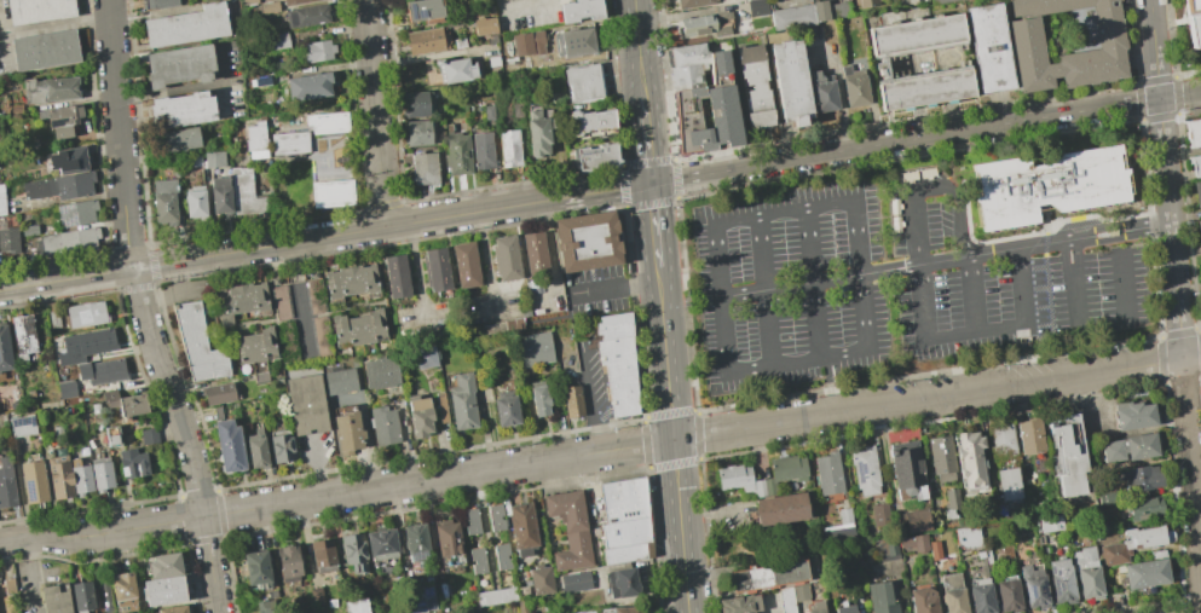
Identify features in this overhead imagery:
building: (412, 0)
building: (516, 0)
building: (940, 0)
building: (293, 1)
building: (157, 2)
building: (694, 2)
building: (873, 5)
building: (761, 8)
building: (37, 10)
rooftop solar panel: (414, 10)
building: (481, 11)
building: (584, 11)
rooftop solar panel: (422, 13)
building: (844, 13)
building: (827, 15)
building: (306, 16)
building: (432, 16)
building: (1196, 19)
building: (720, 21)
building: (797, 21)
road: (54, 23)
building: (186, 25)
building: (489, 31)
building: (922, 36)
building: (278, 40)
building: (582, 44)
building: (529, 45)
road: (2, 46)
building: (434, 46)
building: (995, 47)
building: (44, 48)
road: (639, 48)
building: (1111, 48)
road: (1154, 48)
building: (317, 50)
building: (718, 62)
building: (178, 64)
building: (693, 64)
building: (493, 73)
building: (462, 74)
road: (220, 75)
building: (797, 83)
building: (307, 86)
building: (689, 86)
building: (590, 88)
building: (932, 88)
building: (50, 89)
building: (860, 89)
building: (761, 91)
road: (168, 92)
building: (828, 92)
road: (1180, 94)
building: (559, 100)
building: (181, 110)
building: (421, 110)
building: (521, 112)
road: (375, 114)
building: (492, 115)
building: (60, 118)
building: (328, 121)
building: (591, 123)
rooftop solar panel: (54, 125)
building: (1193, 131)
building: (417, 133)
building: (254, 137)
building: (179, 139)
building: (427, 139)
building: (544, 139)
road: (647, 140)
road: (905, 140)
building: (288, 141)
building: (513, 151)
building: (489, 155)
building: (596, 155)
building: (463, 156)
building: (212, 158)
building: (70, 160)
road: (1165, 161)
building: (1196, 164)
building: (429, 172)
traffic signals: (651, 184)
building: (59, 185)
building: (1049, 185)
road: (930, 186)
building: (244, 192)
building: (1196, 192)
building: (331, 193)
building: (220, 195)
building: (163, 199)
building: (1, 201)
building: (195, 202)
building: (75, 213)
road: (654, 225)
building: (1199, 229)
building: (29, 230)
road: (325, 237)
building: (8, 239)
building: (64, 241)
building: (585, 241)
road: (1069, 241)
road: (548, 250)
building: (533, 253)
building: (507, 258)
road: (943, 261)
road: (484, 262)
building: (466, 265)
building: (435, 268)
road: (416, 272)
building: (395, 276)
building: (351, 281)
road: (821, 281)
parking lot: (896, 282)
road: (643, 283)
road: (812, 284)
road: (601, 290)
road: (764, 291)
road: (1174, 291)
road: (972, 294)
building: (239, 301)
road: (143, 310)
building: (86, 313)
building: (53, 319)
building: (359, 328)
road: (1092, 329)
road: (975, 331)
building: (319, 336)
building: (23, 339)
building: (194, 341)
building: (85, 345)
building: (254, 345)
building: (532, 348)
building: (4, 349)
road: (868, 355)
building: (425, 357)
road: (1190, 357)
rooftop solar panel: (65, 362)
building: (617, 362)
building: (100, 370)
road: (1182, 371)
building: (379, 372)
building: (340, 381)
road: (588, 386)
building: (67, 389)
building: (218, 393)
building: (538, 398)
building: (462, 400)
building: (571, 400)
building: (125, 403)
building: (305, 404)
building: (504, 407)
building: (418, 415)
building: (1132, 415)
rooftop solar panel: (29, 422)
rooftop solar panel: (17, 423)
building: (382, 424)
building: (22, 426)
building: (346, 432)
building: (149, 435)
building: (1028, 435)
building: (111, 436)
road: (595, 436)
road: (672, 440)
building: (1000, 440)
building: (229, 445)
building: (281, 445)
building: (1127, 447)
building: (256, 449)
road: (590, 452)
building: (940, 453)
building: (1067, 453)
building: (970, 459)
building: (132, 463)
building: (906, 469)
building: (785, 470)
rooftop solar panel: (860, 470)
building: (864, 470)
building: (100, 473)
building: (827, 473)
building: (59, 476)
building: (80, 479)
building: (738, 479)
building: (1141, 479)
building: (33, 480)
building: (6, 484)
building: (1006, 484)
road: (1191, 484)
rooftop solar panel: (29, 493)
building: (951, 496)
building: (1104, 497)
building: (1144, 507)
building: (779, 508)
building: (844, 515)
building: (879, 515)
building: (495, 516)
building: (623, 519)
building: (916, 520)
building: (470, 521)
building: (1047, 522)
building: (1101, 527)
building: (521, 528)
building: (570, 528)
building: (836, 534)
building: (448, 537)
building: (966, 537)
building: (913, 540)
building: (415, 542)
building: (381, 543)
building: (1131, 543)
building: (891, 547)
building: (934, 549)
building: (353, 551)
building: (322, 555)
building: (501, 556)
building: (477, 560)
building: (287, 562)
building: (164, 565)
building: (254, 568)
building: (1086, 572)
building: (1145, 573)
building: (768, 574)
road: (27, 578)
building: (539, 579)
building: (574, 580)
building: (1061, 580)
building: (624, 582)
building: (8, 585)
building: (1033, 586)
building: (163, 590)
rooftop solar panel: (1041, 591)
building: (105, 592)
building: (122, 592)
building: (799, 592)
building: (952, 594)
building: (1007, 594)
rooftop solar panel: (1029, 594)
building: (81, 595)
building: (496, 596)
building: (981, 596)
building: (880, 597)
building: (54, 598)
building: (785, 600)
building: (922, 600)
building: (422, 601)
building: (739, 603)
building: (522, 605)
building: (266, 606)
building: (354, 606)
building: (814, 607)
building: (844, 608)
building: (172, 609)
building: (620, 609)
building: (587, 612)

